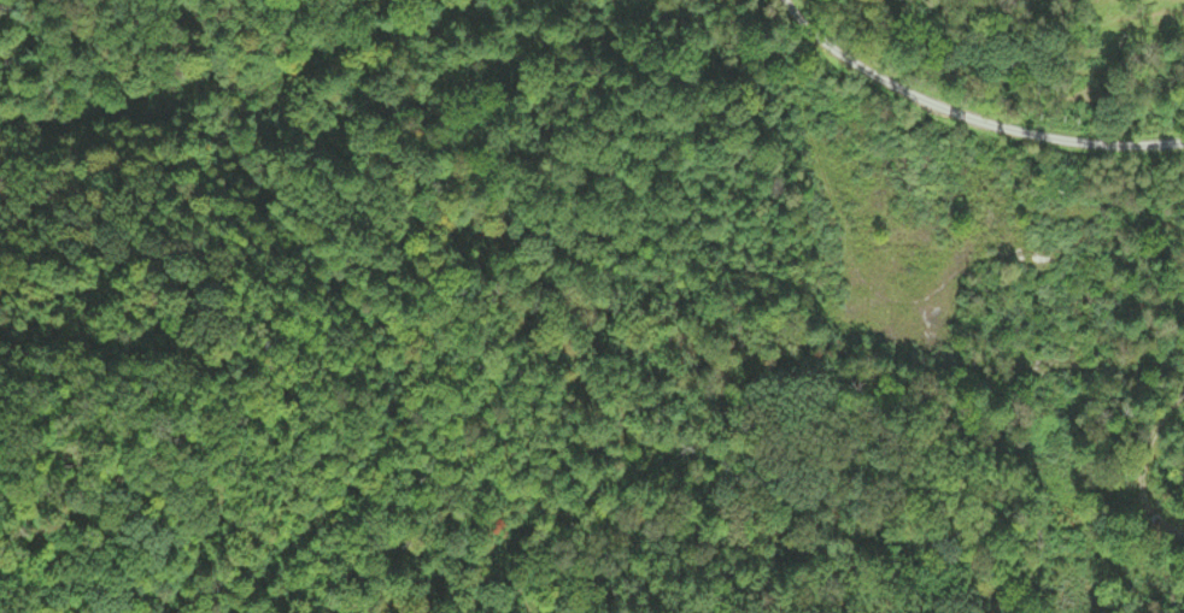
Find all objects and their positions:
road: (279, 29)
road: (962, 132)
road: (306, 525)

